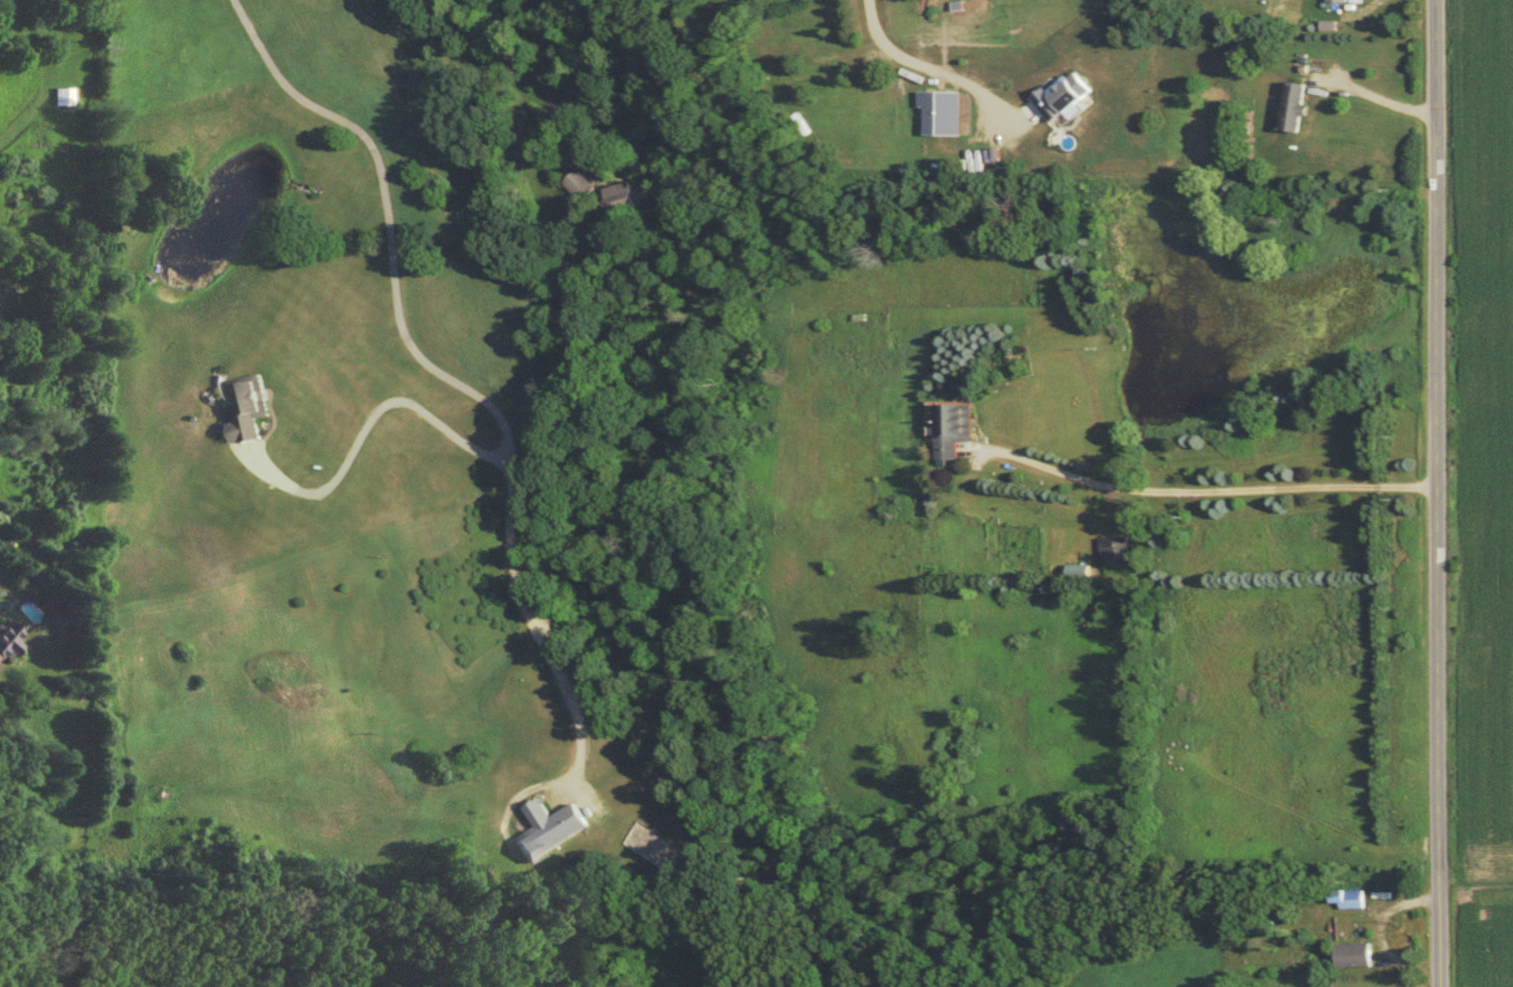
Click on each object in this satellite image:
building: (1338, 0)
road: (516, 61)
road: (911, 61)
building: (1064, 96)
building: (62, 98)
road: (1381, 103)
building: (1294, 107)
building: (941, 111)
building: (604, 193)
road: (430, 374)
building: (248, 405)
road: (374, 421)
building: (954, 429)
road: (1438, 493)
road: (1213, 495)
building: (1115, 553)
building: (1077, 573)
building: (6, 640)
building: (549, 830)
building: (1349, 900)
building: (1354, 957)

